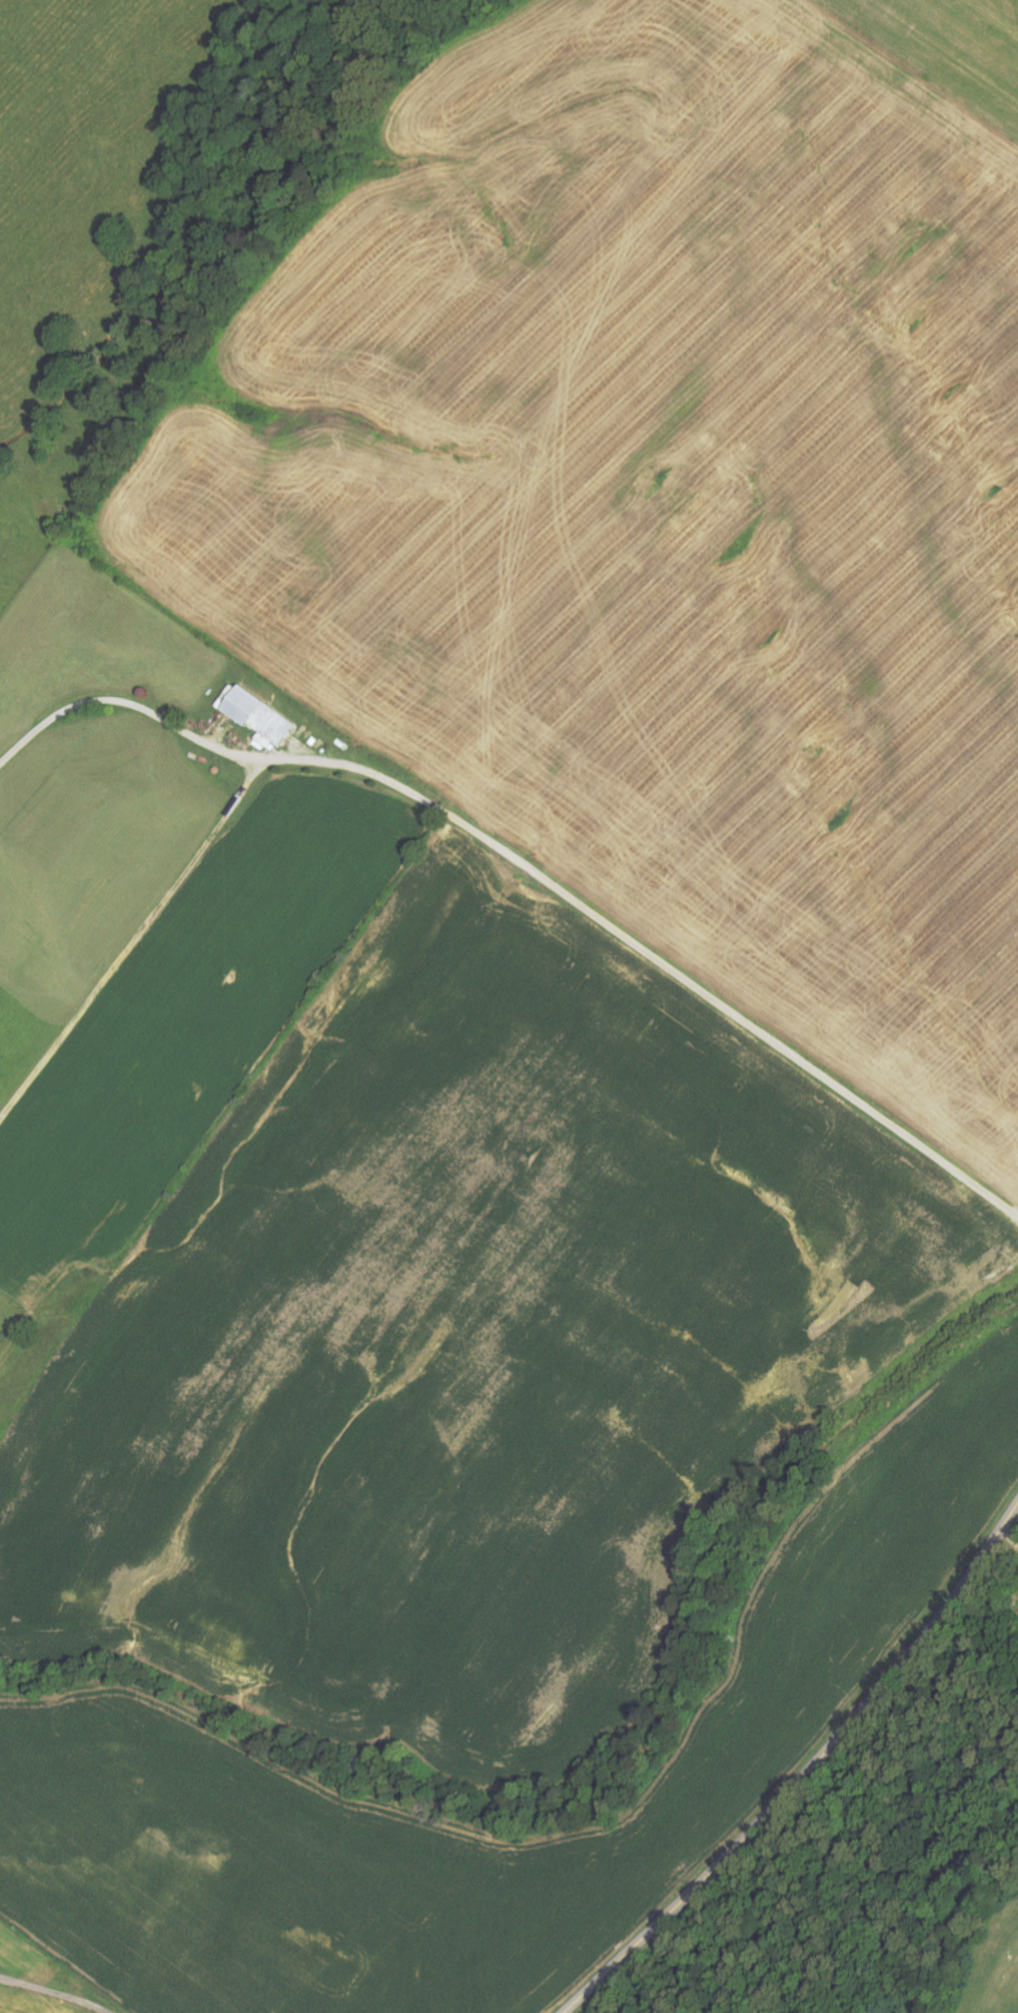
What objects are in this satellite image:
road: (127, 705)
building: (263, 716)
road: (471, 831)
road: (809, 1773)
road: (53, 1993)

